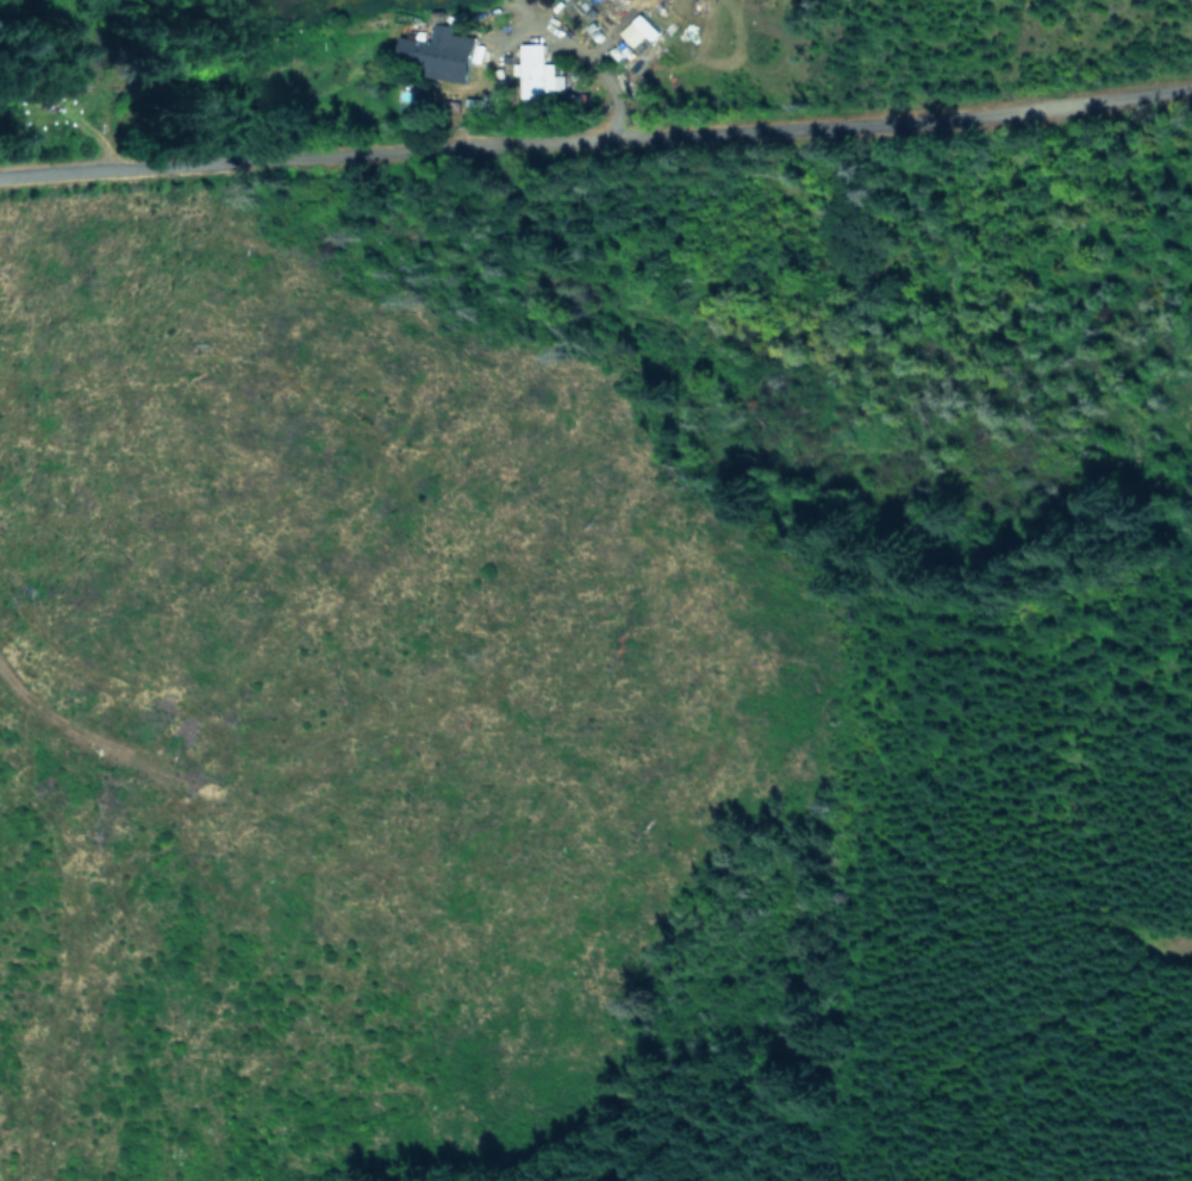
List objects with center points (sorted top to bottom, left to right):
building: (637, 30)
building: (436, 50)
building: (536, 71)
road: (597, 137)

